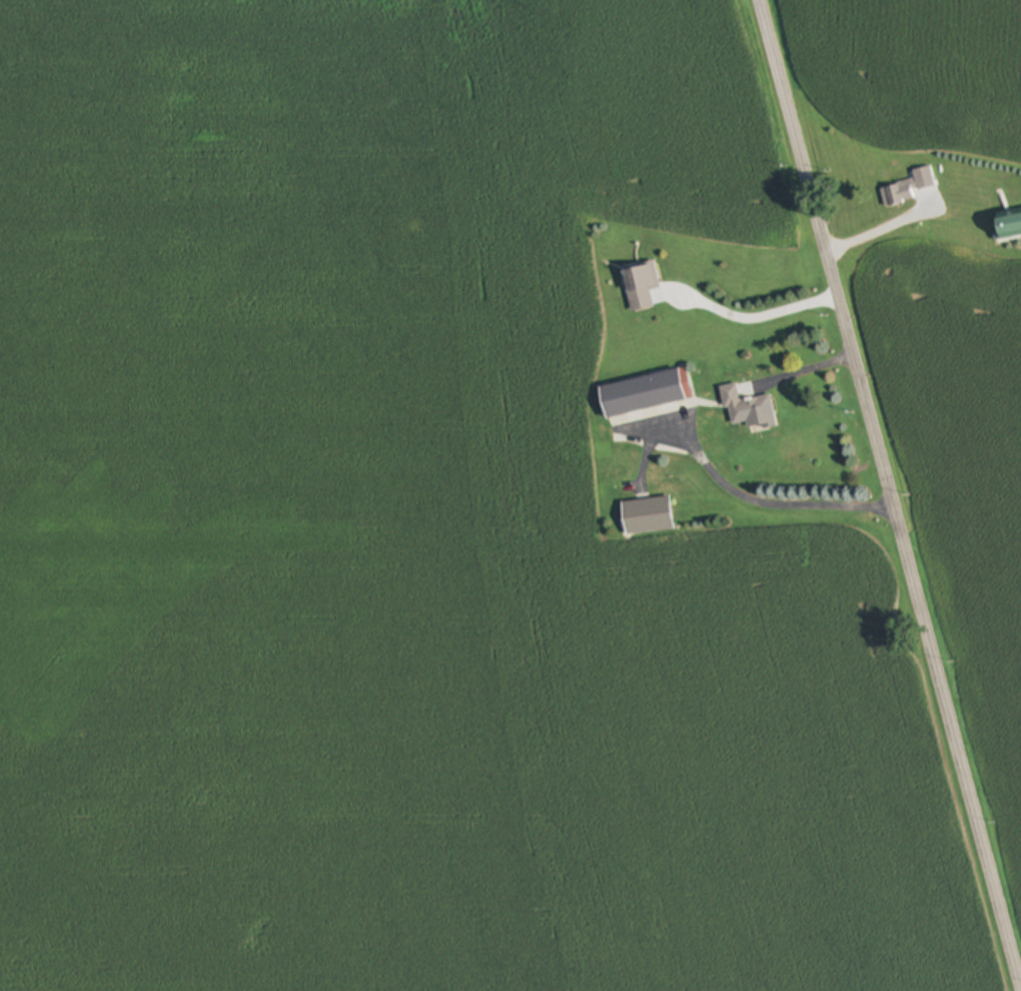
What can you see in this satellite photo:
building: (901, 193)
building: (1010, 227)
road: (879, 230)
building: (642, 286)
road: (755, 319)
road: (802, 370)
building: (647, 393)
building: (747, 408)
road: (889, 488)
road: (775, 506)
building: (648, 516)

